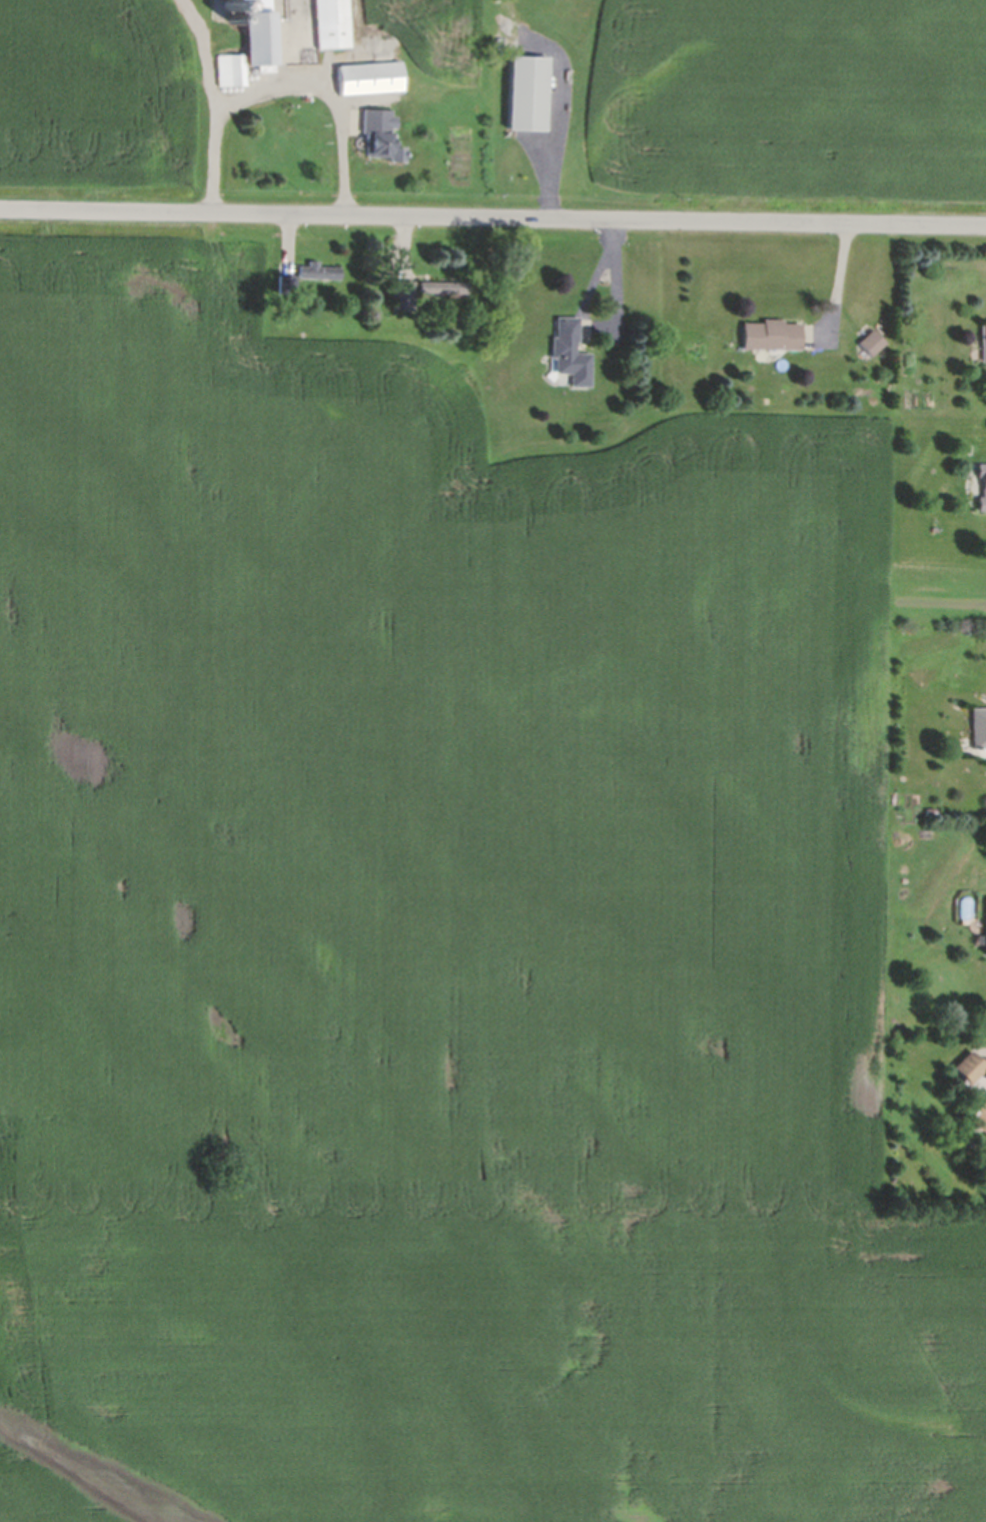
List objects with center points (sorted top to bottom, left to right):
building: (332, 23)
building: (259, 34)
building: (231, 69)
building: (369, 75)
road: (331, 91)
building: (528, 91)
road: (214, 103)
building: (380, 133)
road: (493, 215)
building: (319, 270)
road: (838, 282)
building: (287, 283)
building: (443, 286)
building: (404, 294)
building: (772, 334)
building: (984, 339)
building: (873, 341)
building: (569, 351)
building: (984, 481)
building: (978, 728)
building: (930, 811)
building: (985, 936)
building: (969, 1067)
building: (979, 1117)

